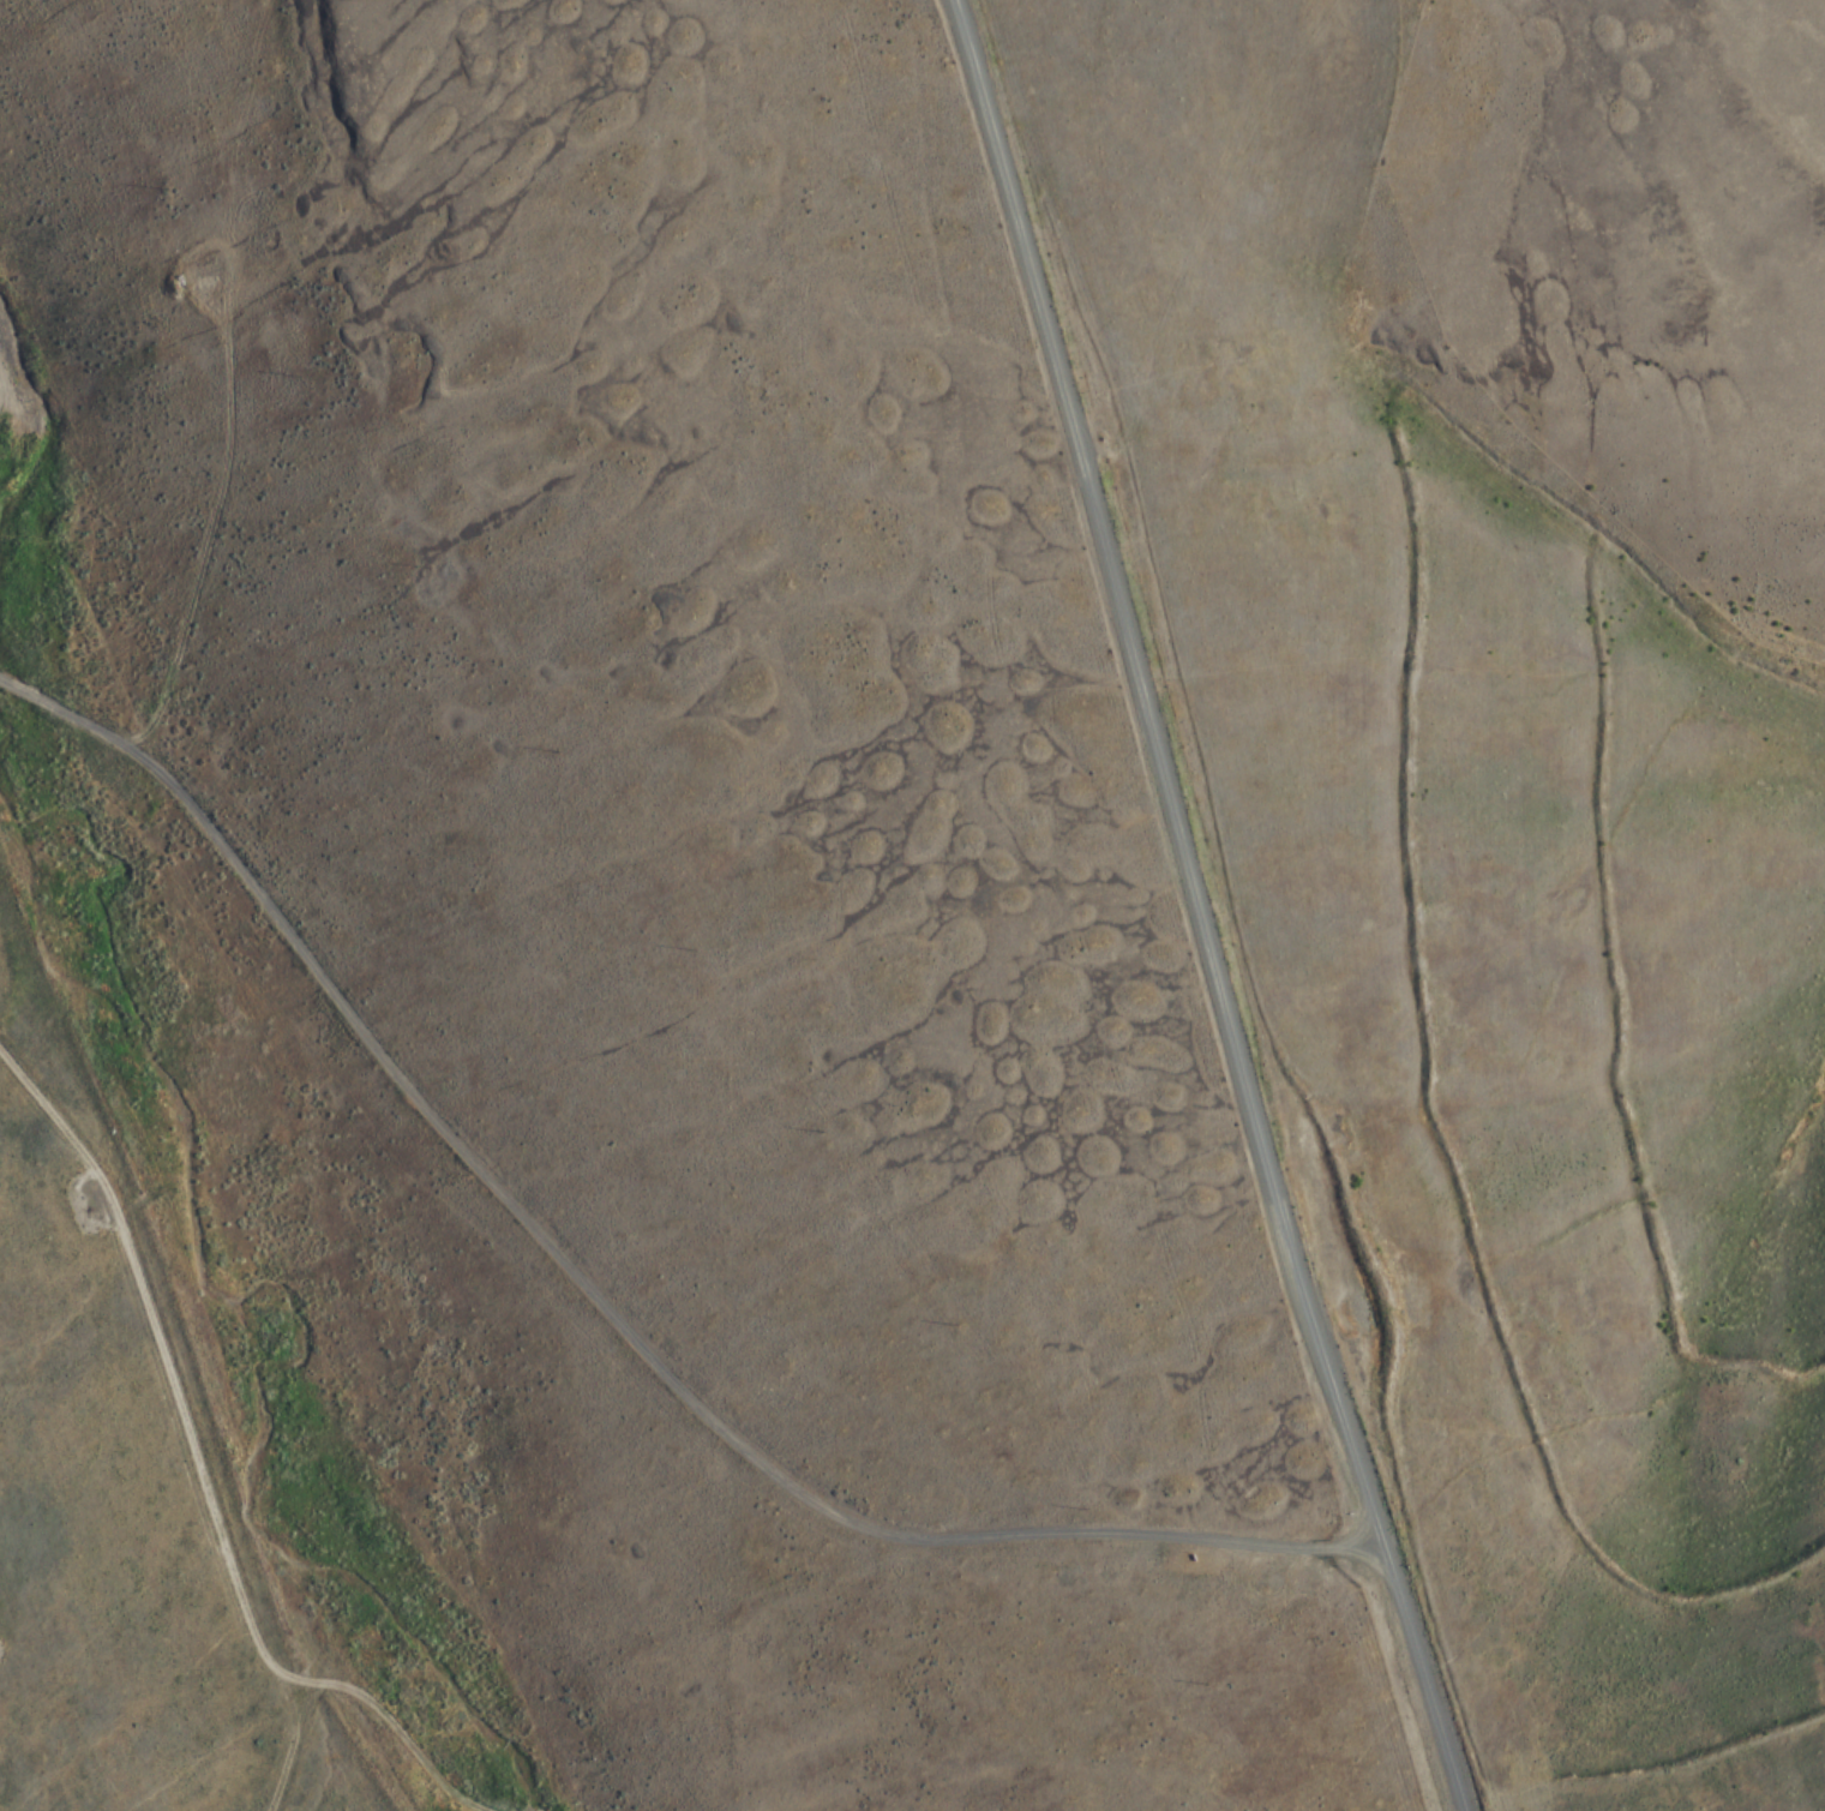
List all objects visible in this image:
road: (1200, 910)
road: (601, 1296)

